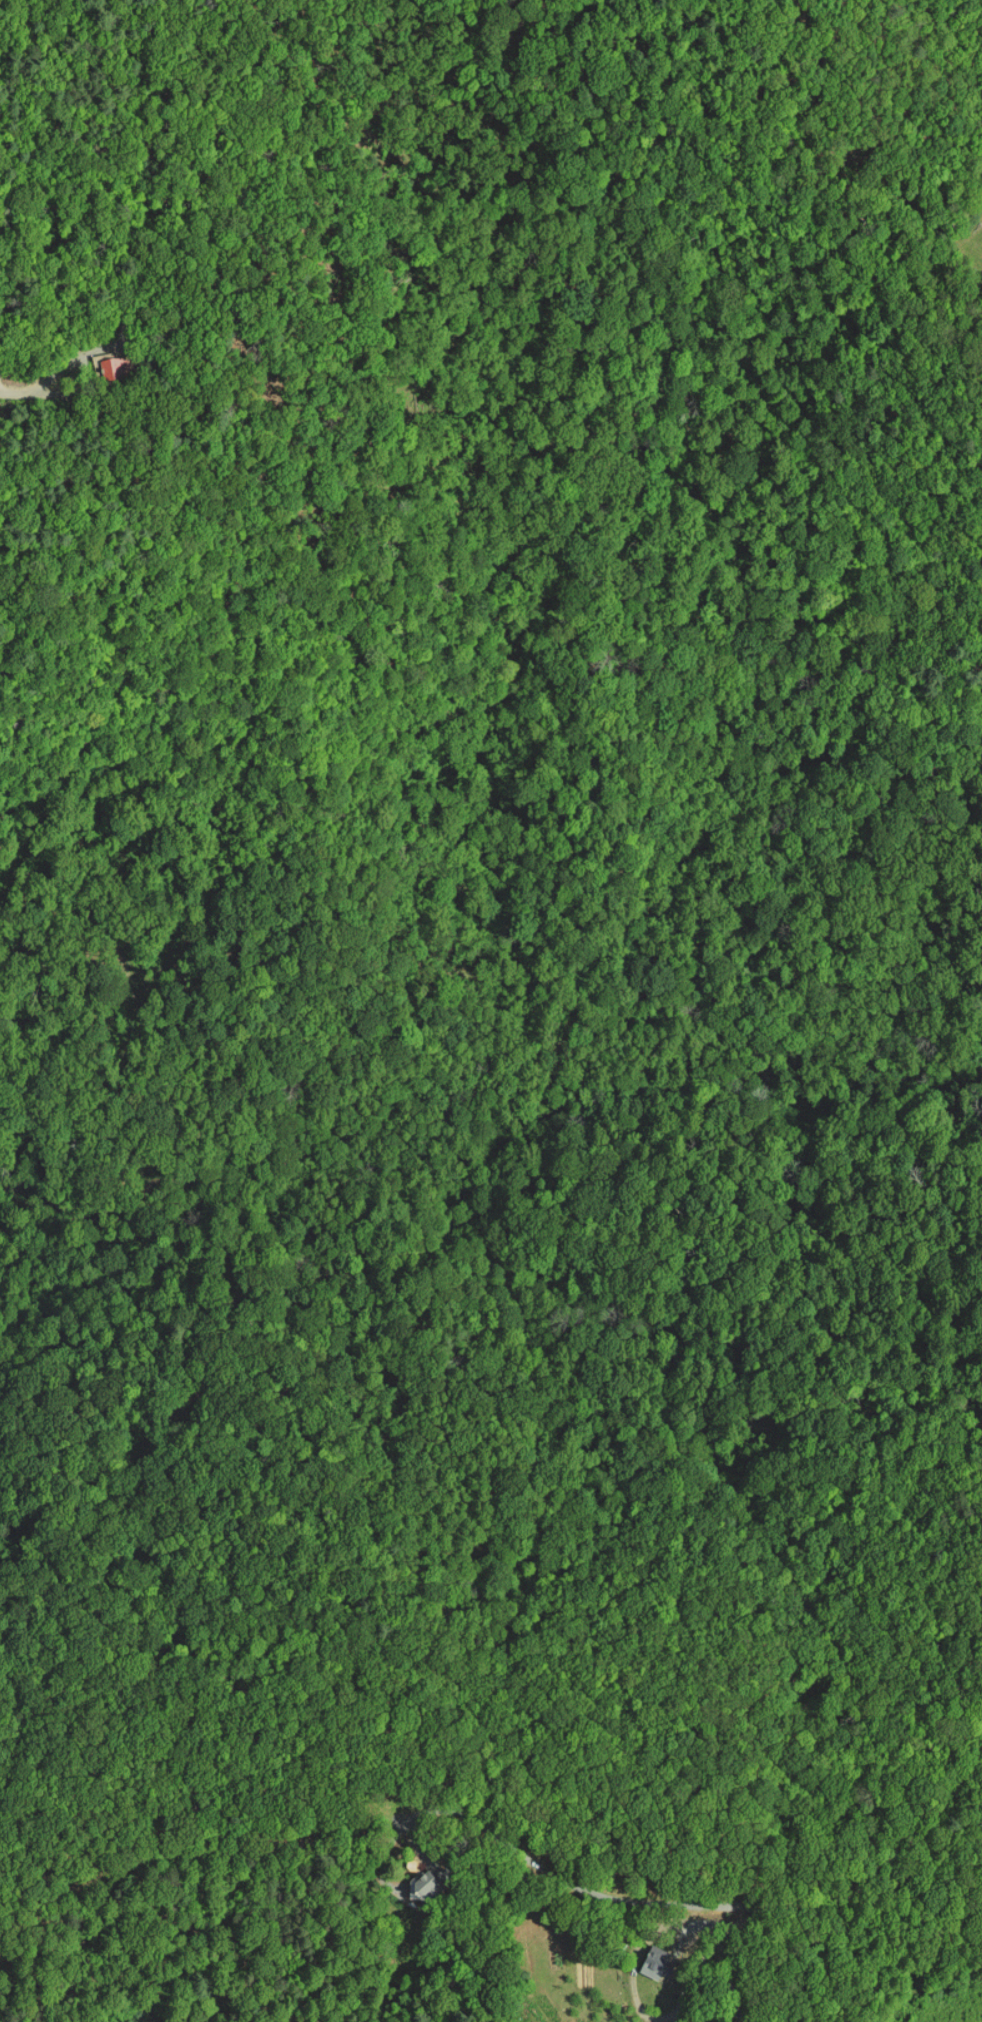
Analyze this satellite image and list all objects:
road: (955, 1790)
road: (472, 1815)
building: (435, 1886)
road: (704, 1951)
building: (663, 1964)

